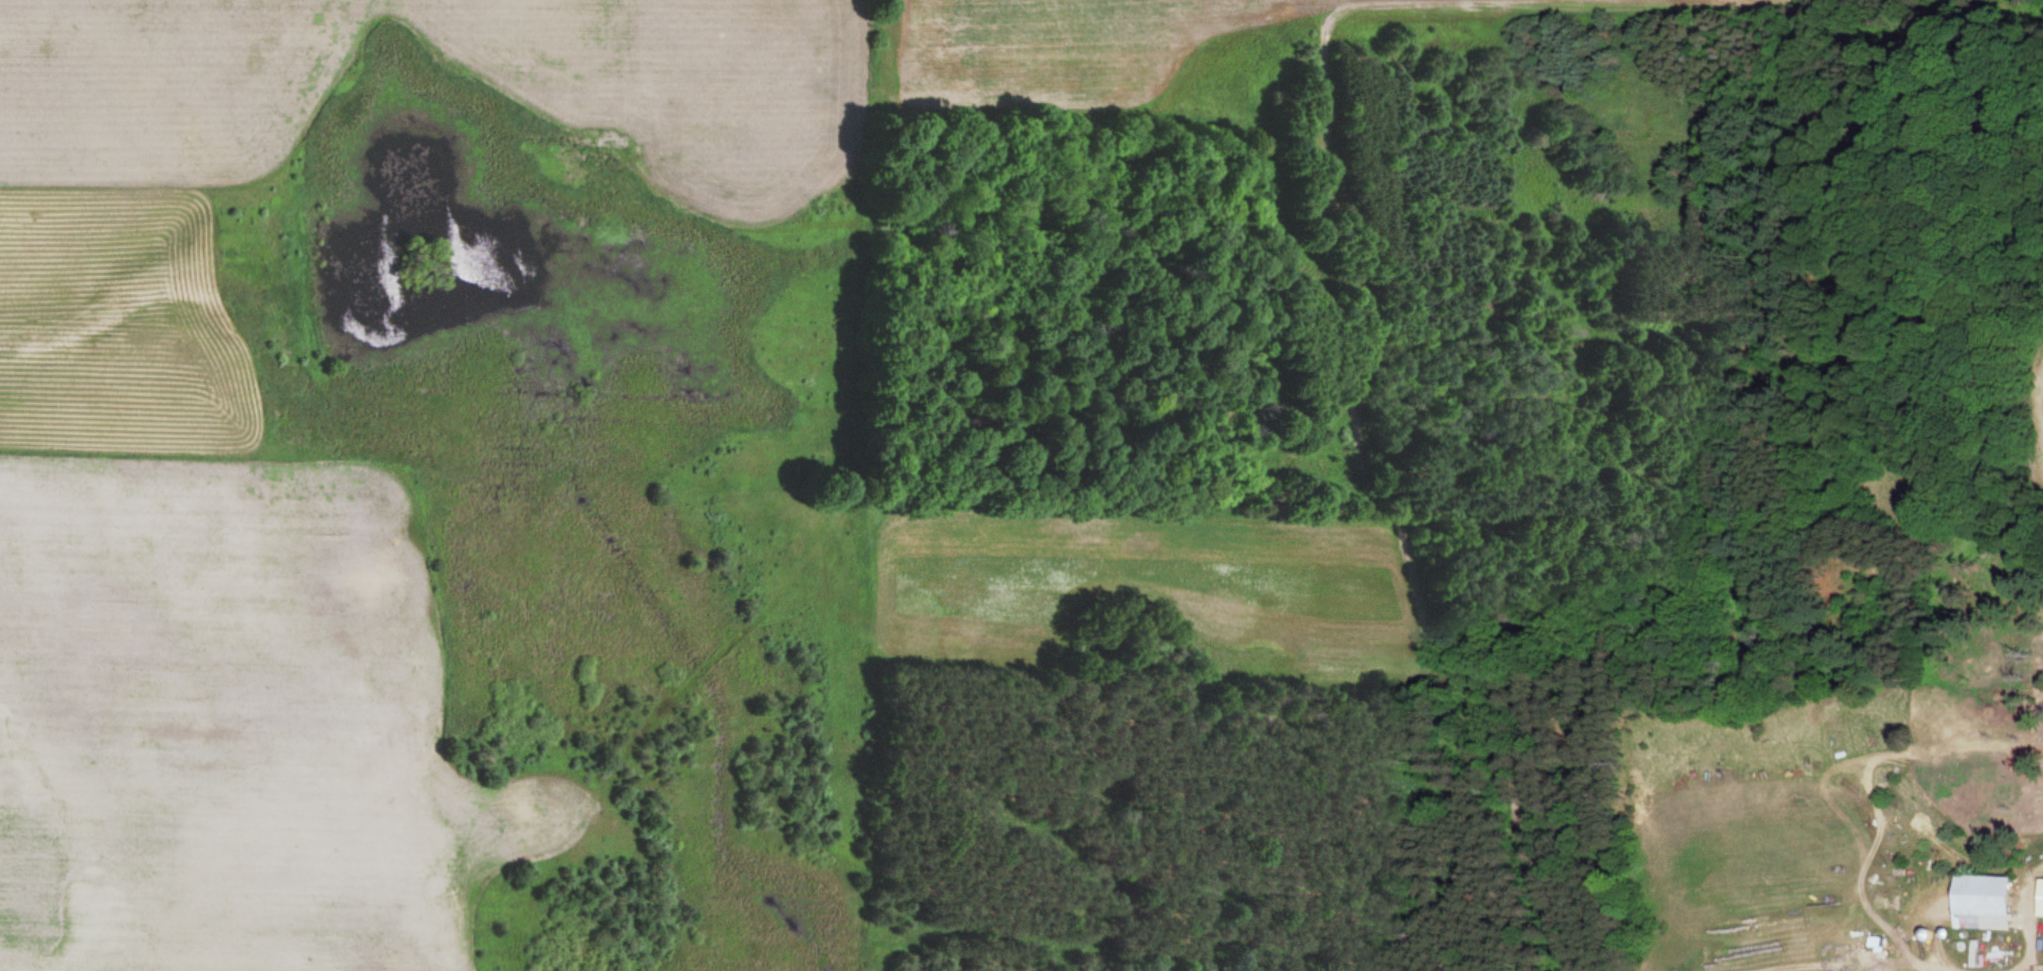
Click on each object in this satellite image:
building: (2039, 898)
building: (1977, 902)

